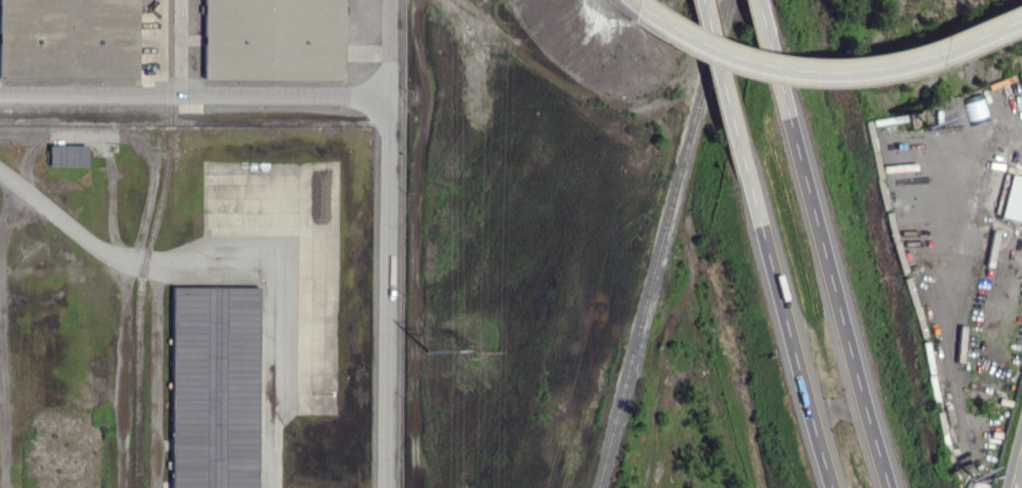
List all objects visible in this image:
road: (771, 54)
road: (718, 68)
road: (819, 71)
road: (196, 97)
building: (70, 155)
road: (972, 160)
building: (1014, 199)
railway: (153, 243)
road: (392, 244)
railway: (669, 244)
road: (836, 298)
road: (782, 312)
road: (278, 327)
power tower: (477, 348)
power tower: (432, 352)
building: (217, 387)

